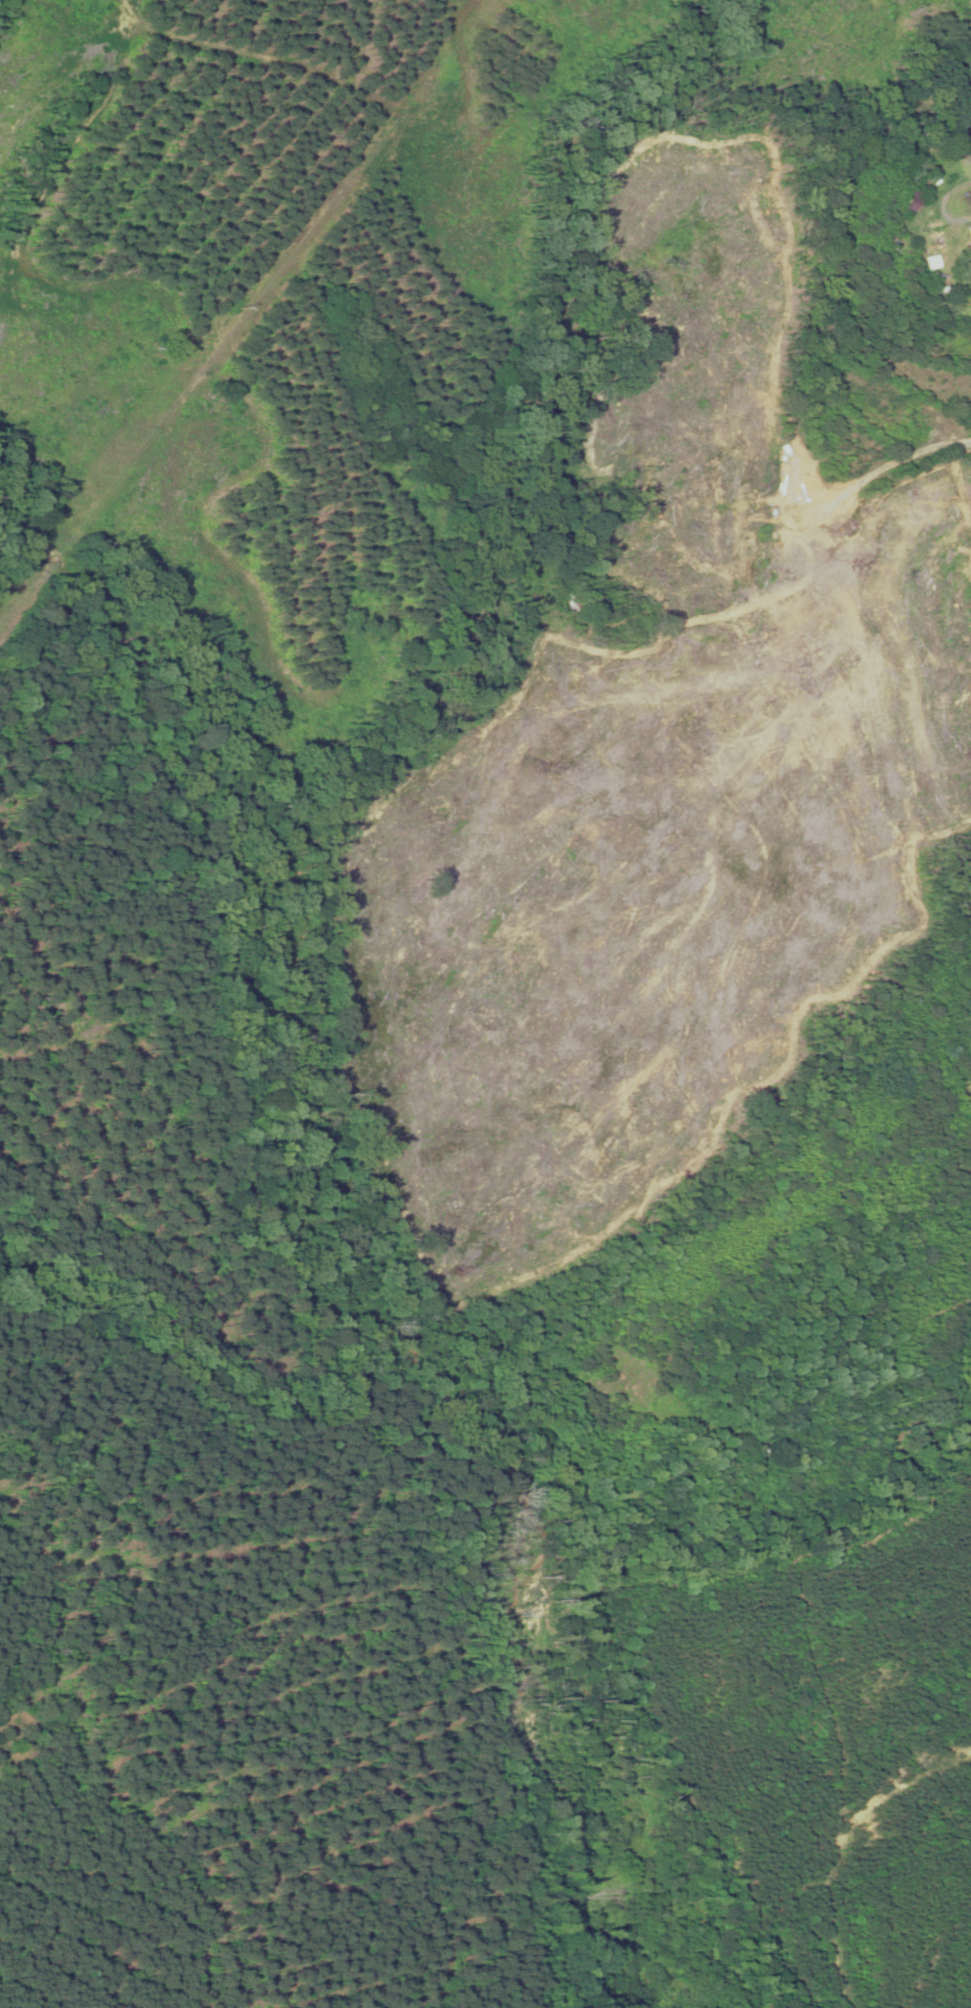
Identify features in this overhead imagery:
building: (915, 202)
building: (937, 241)
river: (372, 1249)

